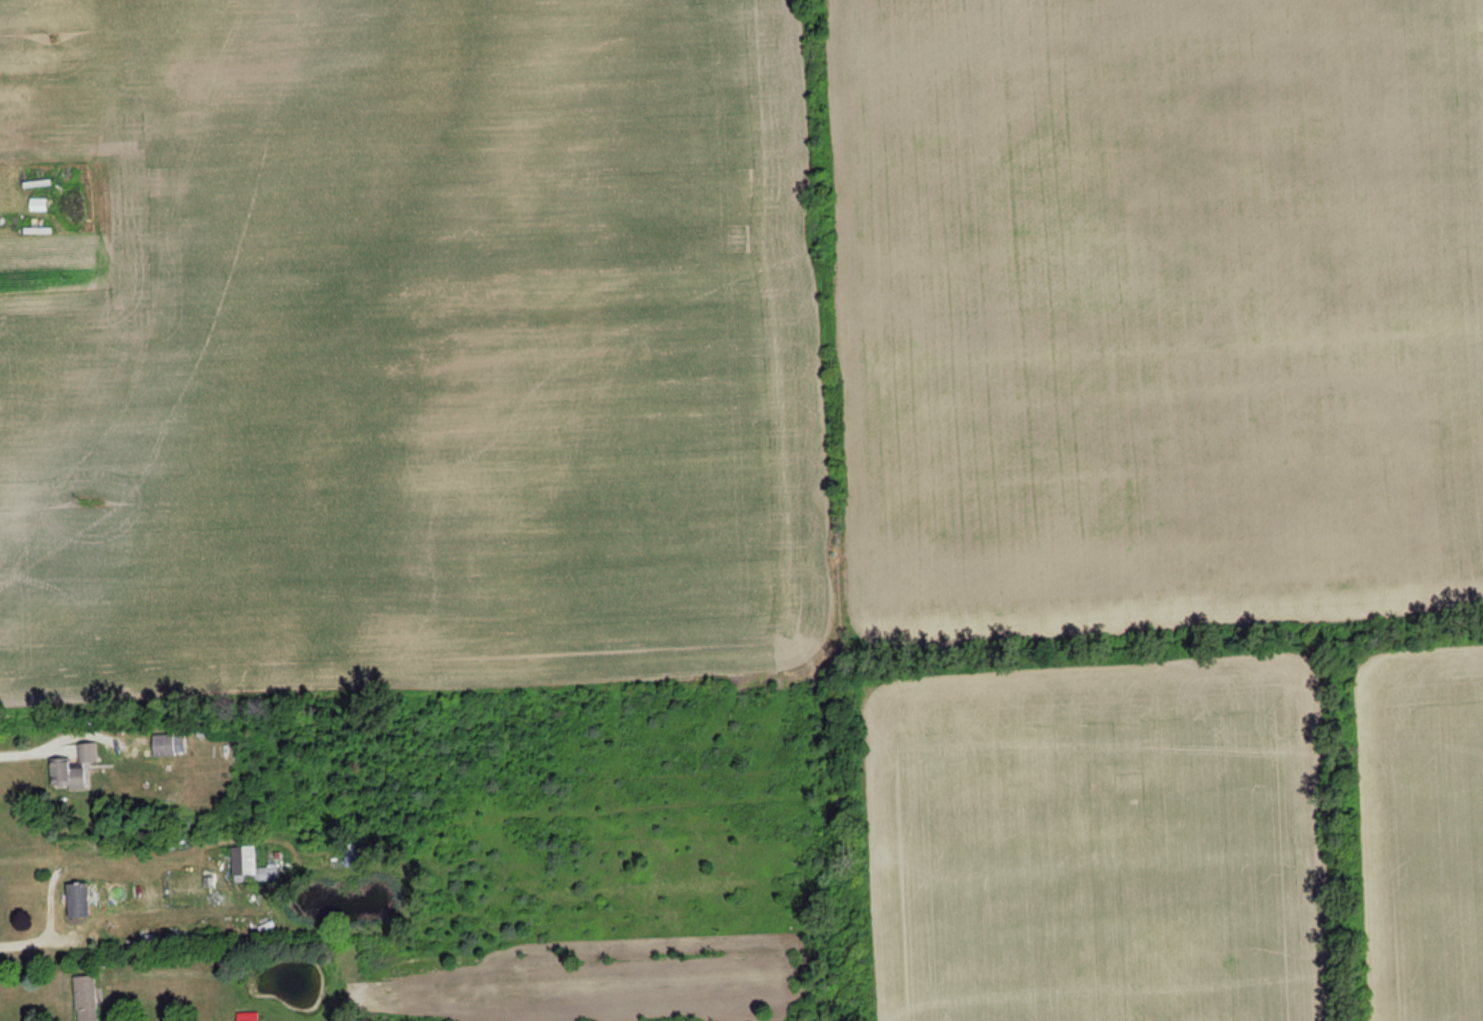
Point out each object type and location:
road: (37, 739)
building: (168, 744)
building: (74, 769)
building: (350, 855)
building: (249, 866)
building: (75, 899)
road: (35, 937)
building: (85, 998)
building: (247, 1020)

